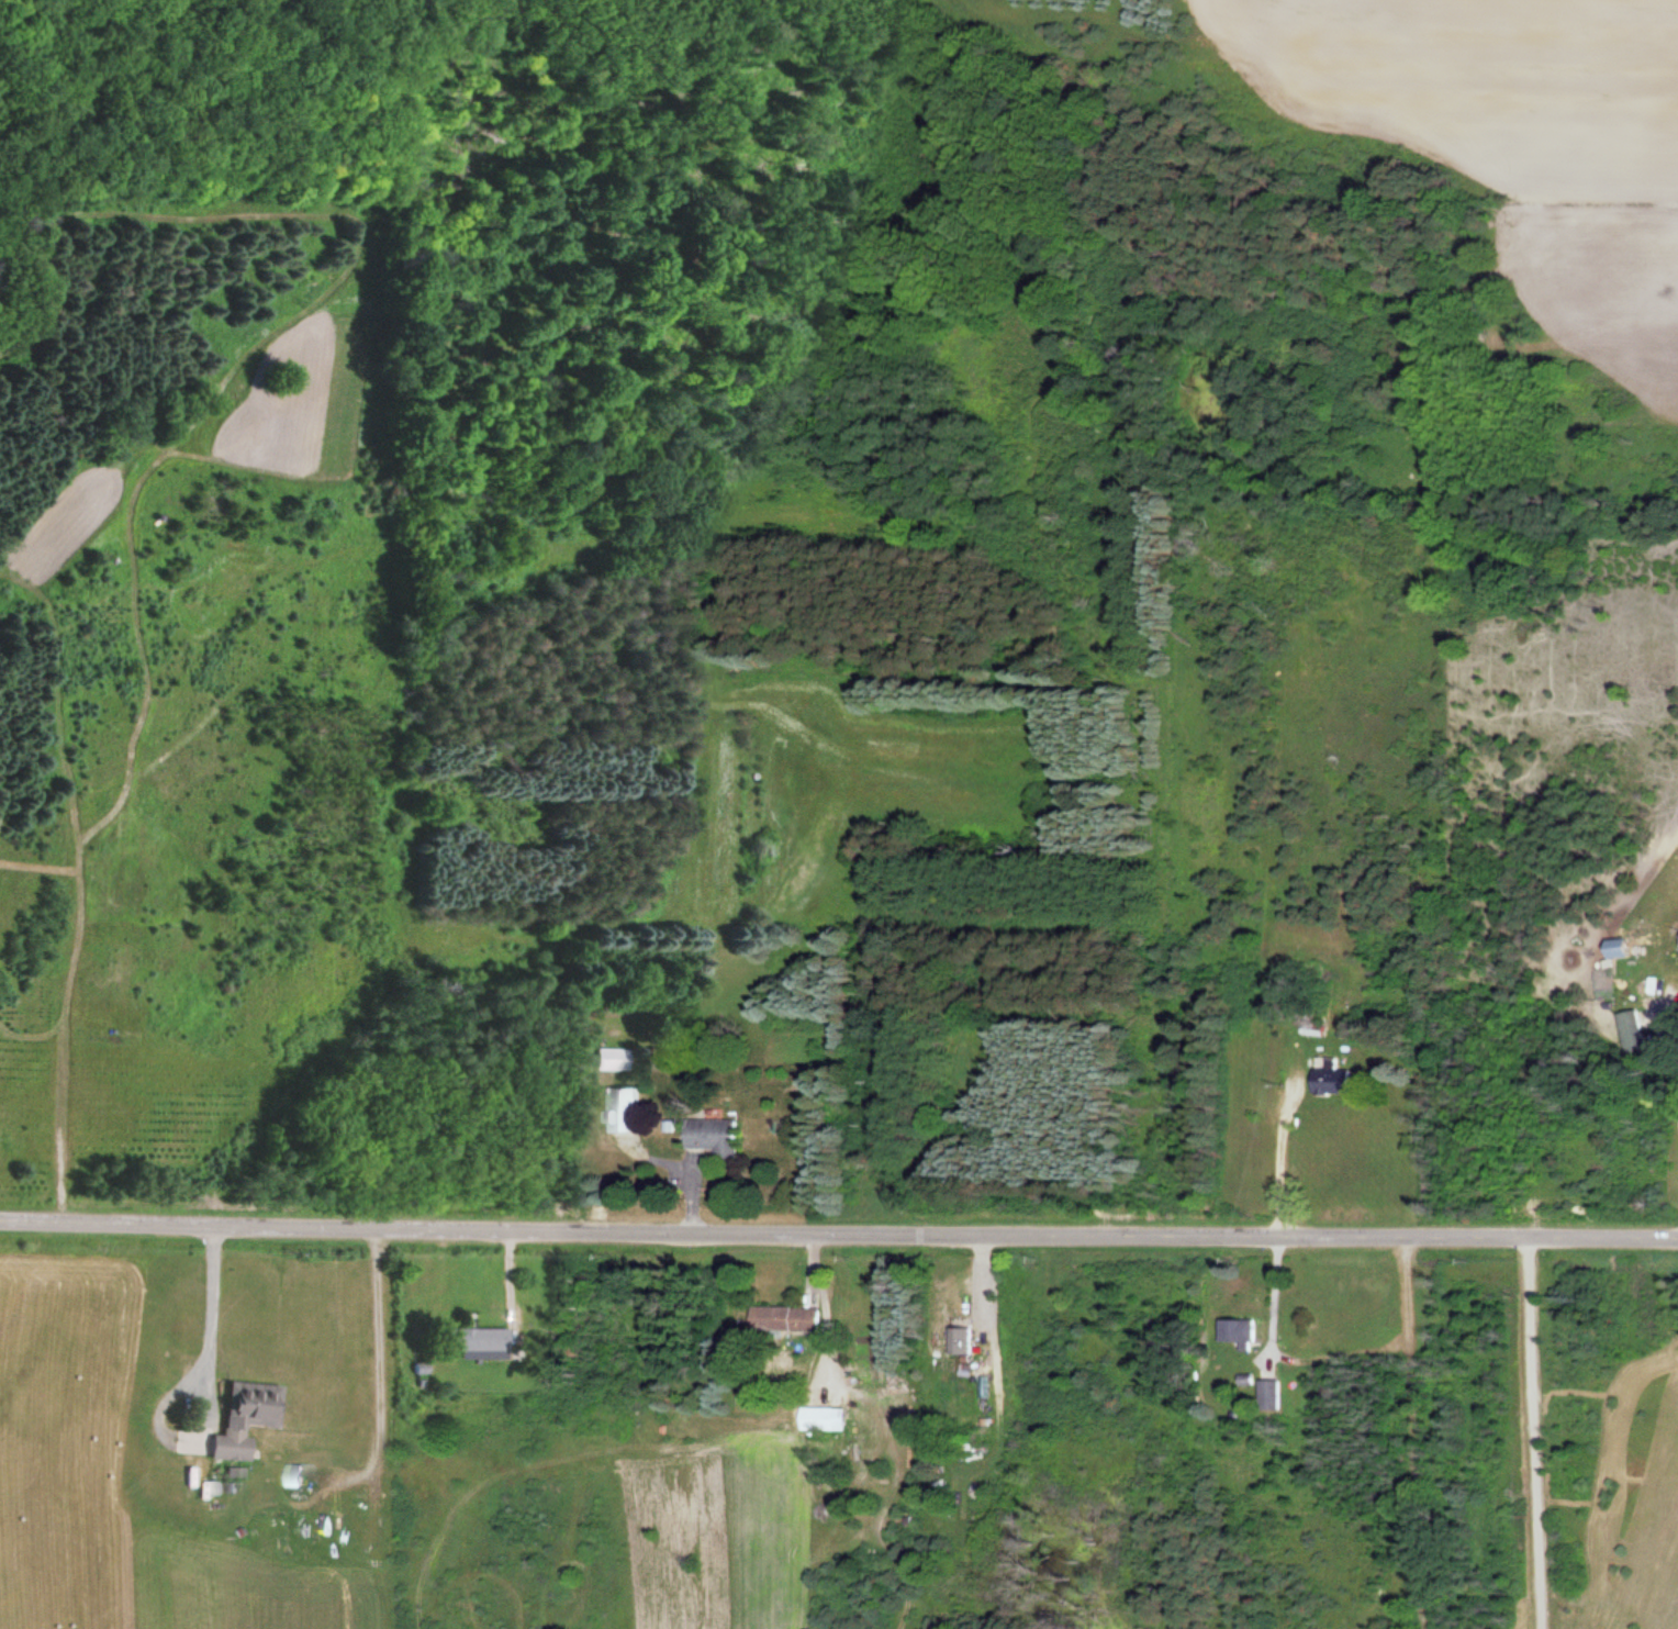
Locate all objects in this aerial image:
building: (1320, 1027)
building: (612, 1059)
building: (1336, 1079)
building: (629, 1111)
building: (718, 1137)
road: (838, 1227)
building: (788, 1317)
building: (1243, 1331)
building: (965, 1339)
building: (476, 1340)
building: (1274, 1394)
building: (245, 1416)
building: (827, 1418)

